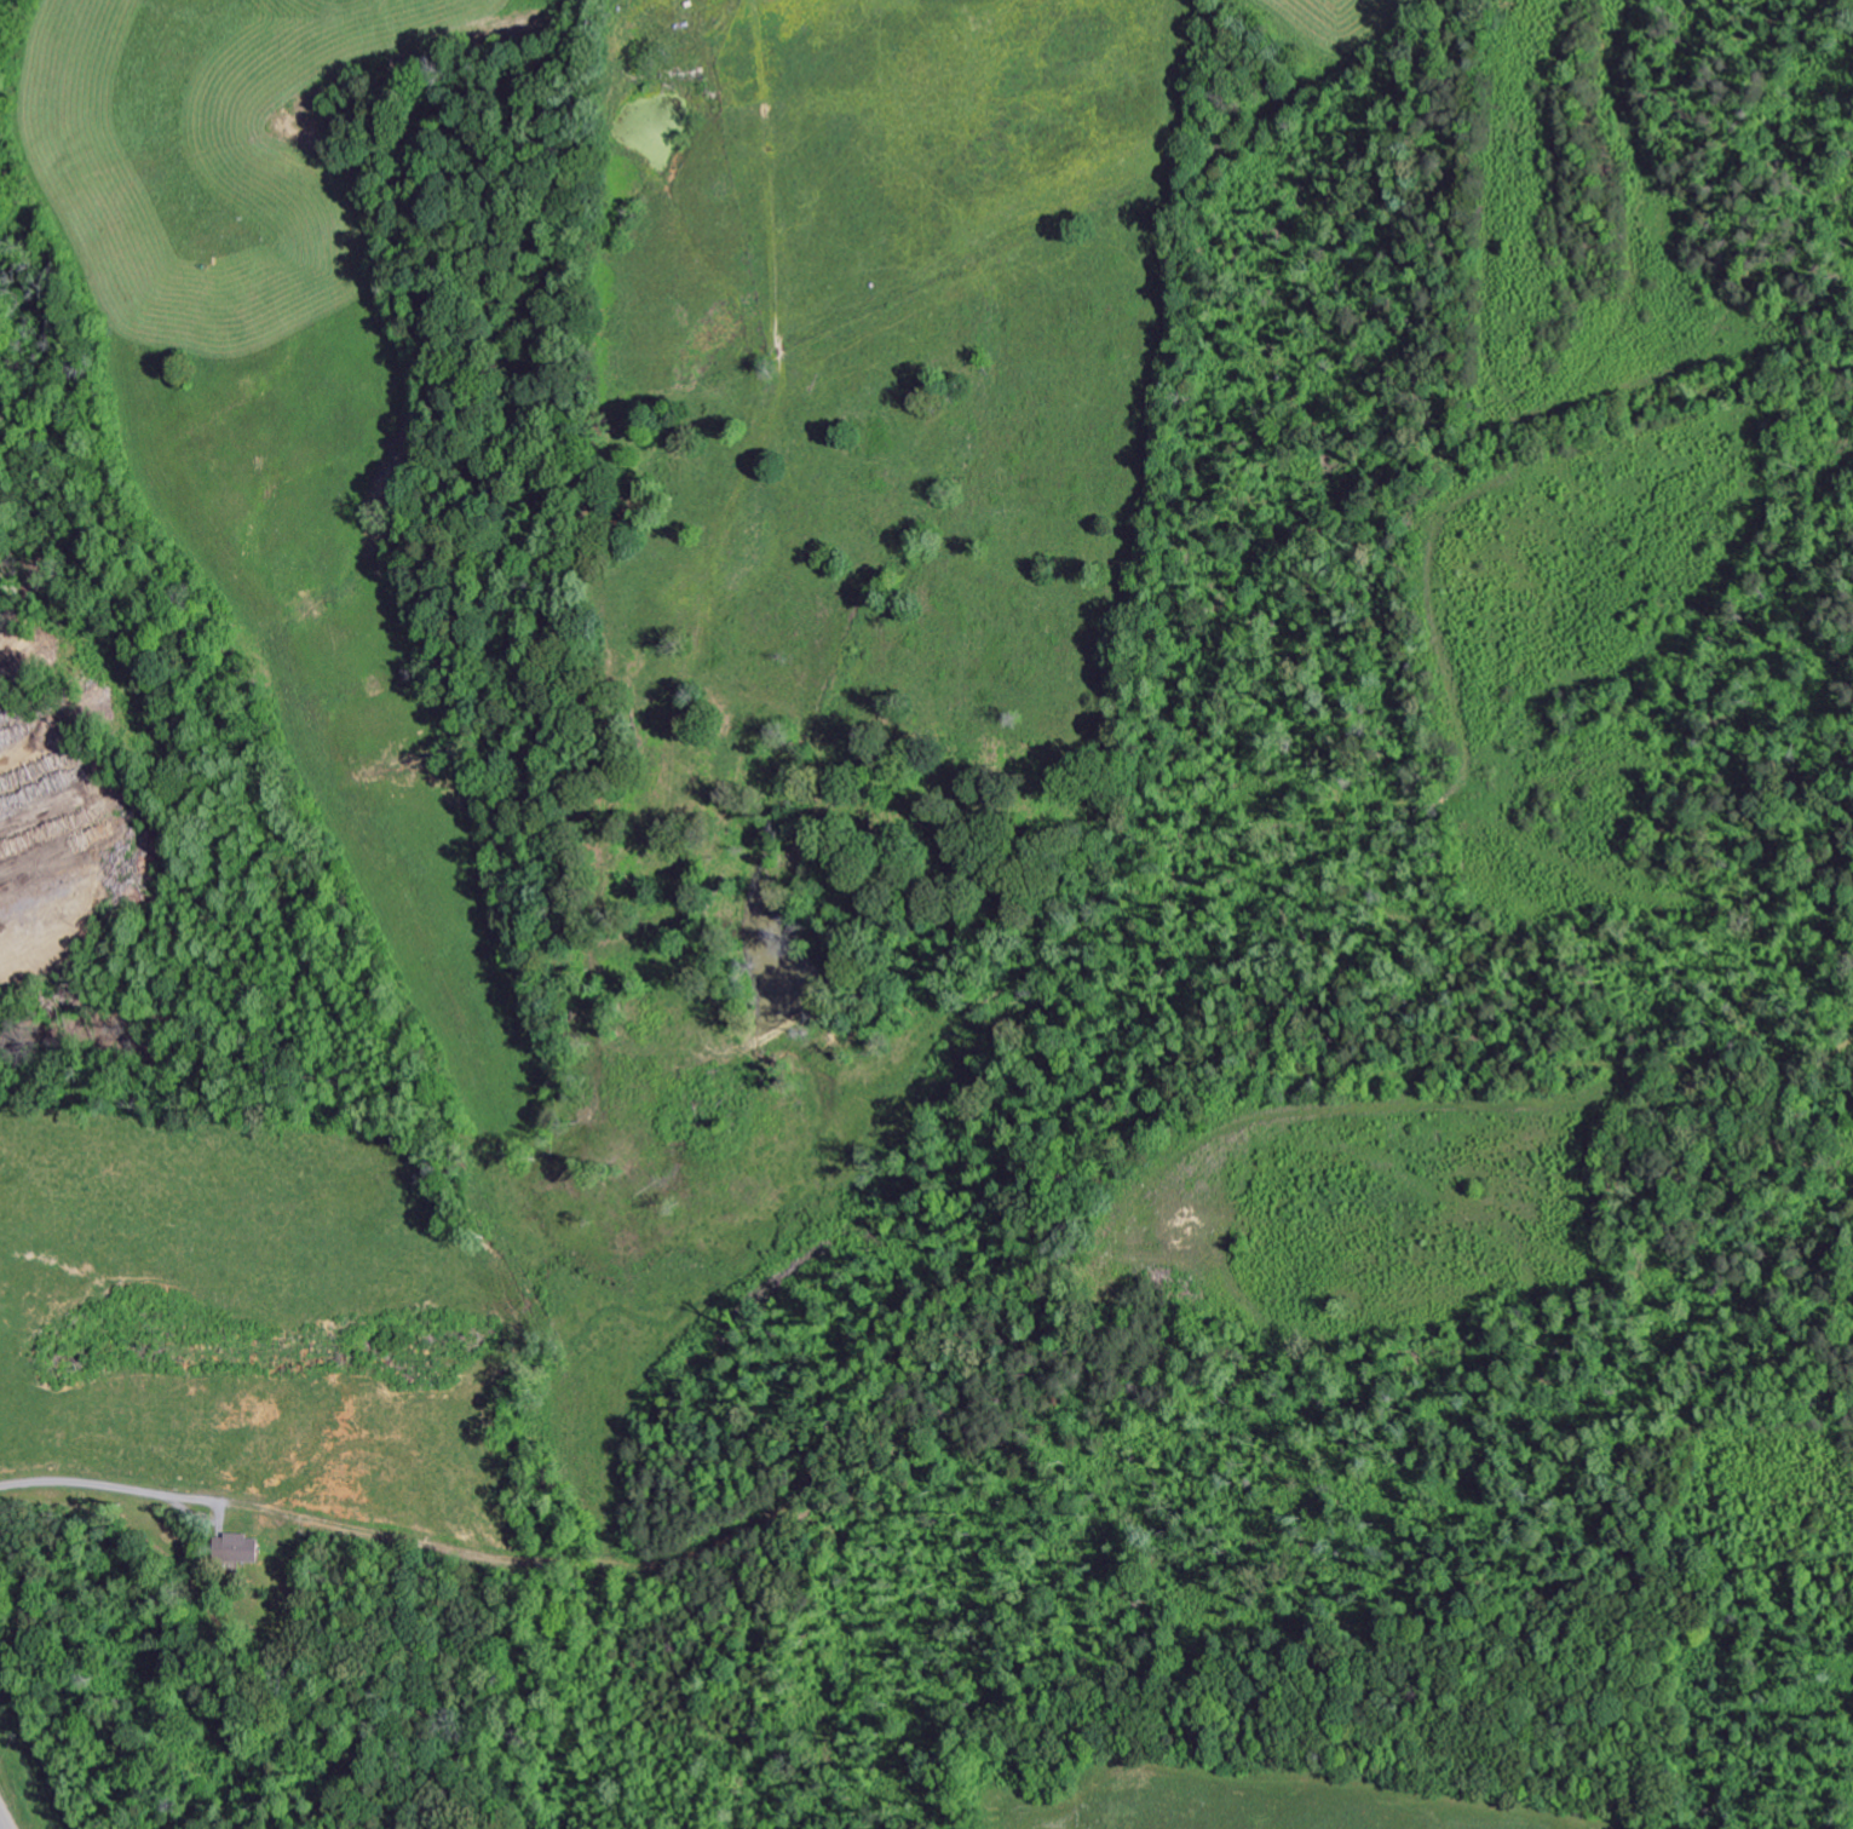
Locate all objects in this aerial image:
road: (108, 1484)
building: (230, 1551)

